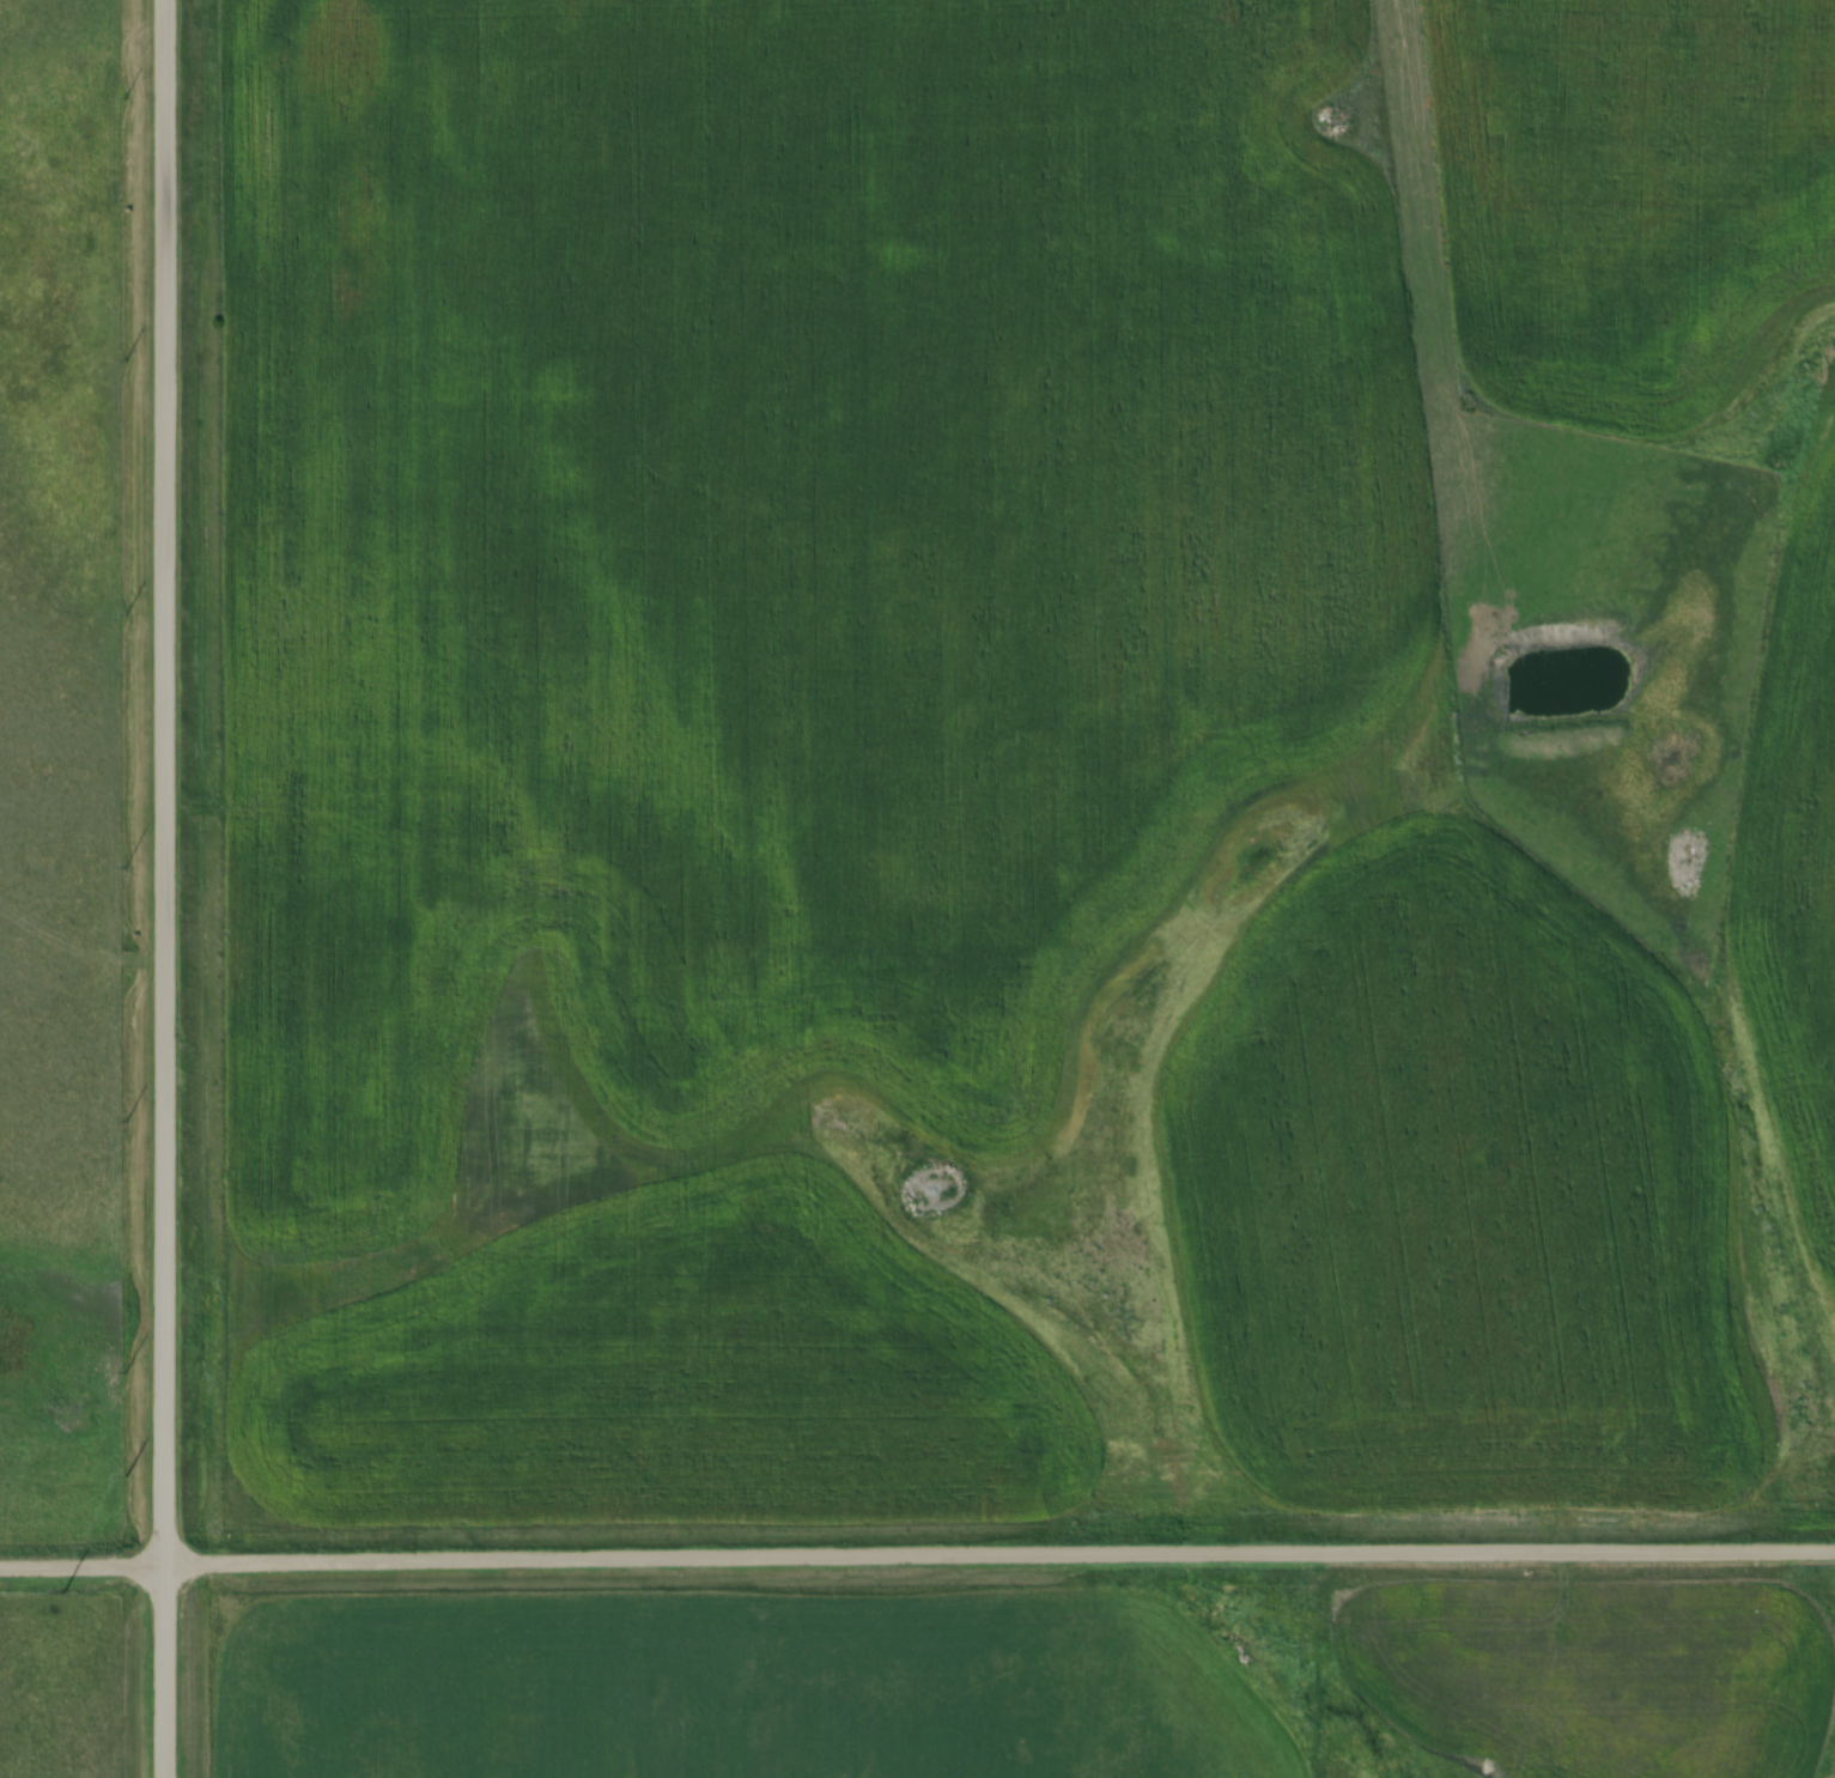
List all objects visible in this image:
road: (165, 888)
road: (917, 1560)

